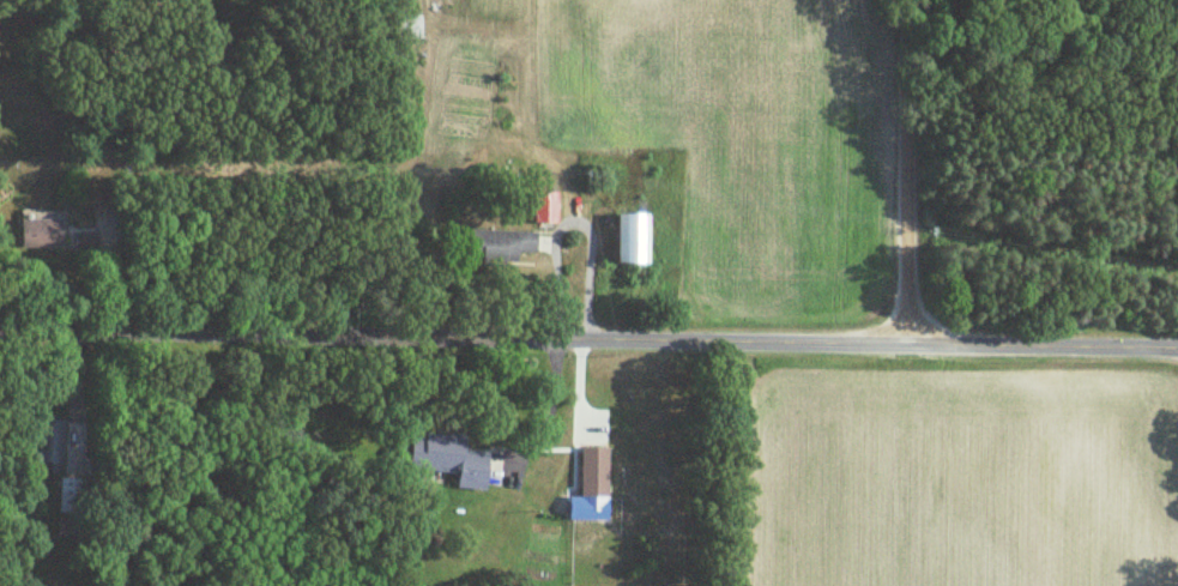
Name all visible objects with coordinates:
building: (409, 28)
road: (905, 171)
building: (545, 209)
building: (42, 231)
building: (633, 240)
building: (500, 248)
road: (588, 338)
road: (548, 405)
building: (49, 442)
building: (449, 459)
building: (594, 473)
building: (72, 495)

